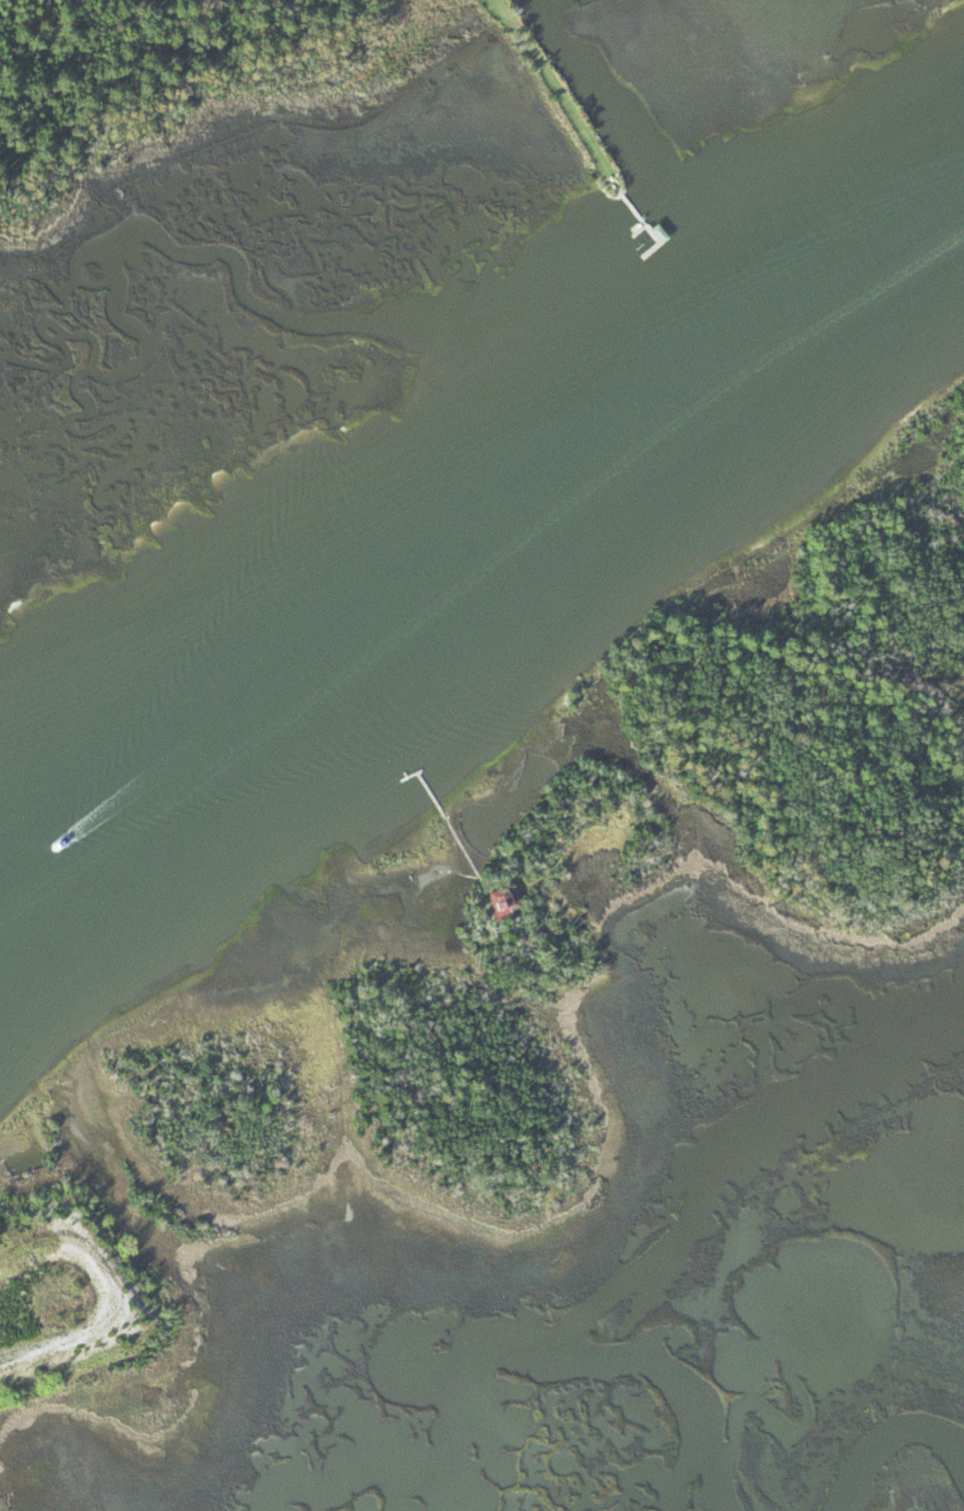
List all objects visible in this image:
road: (446, 818)
building: (506, 901)

